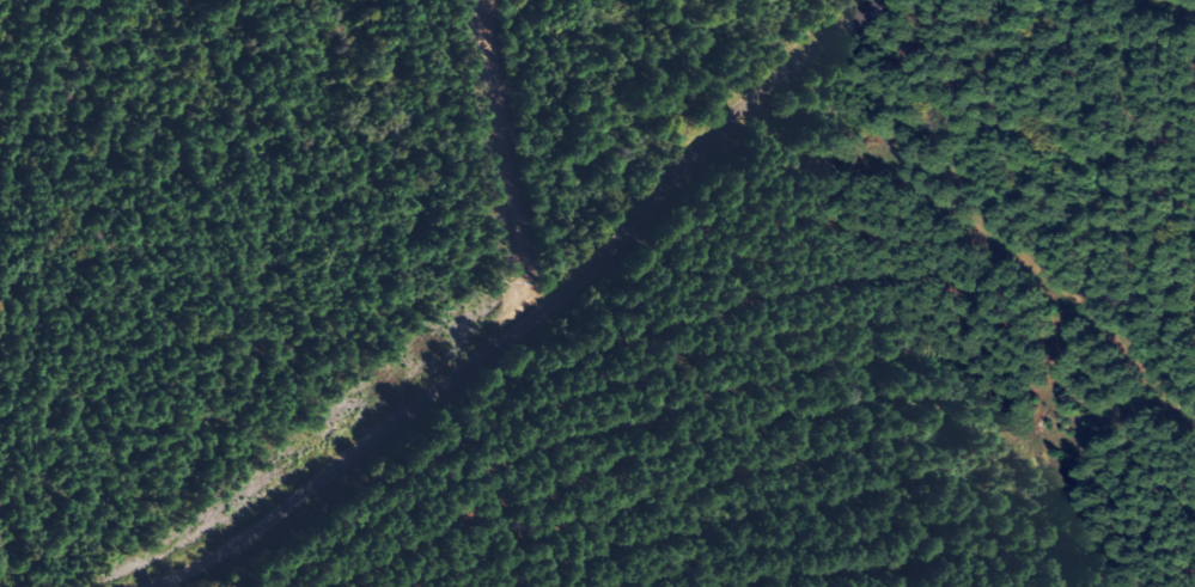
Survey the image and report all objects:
road: (548, 319)

